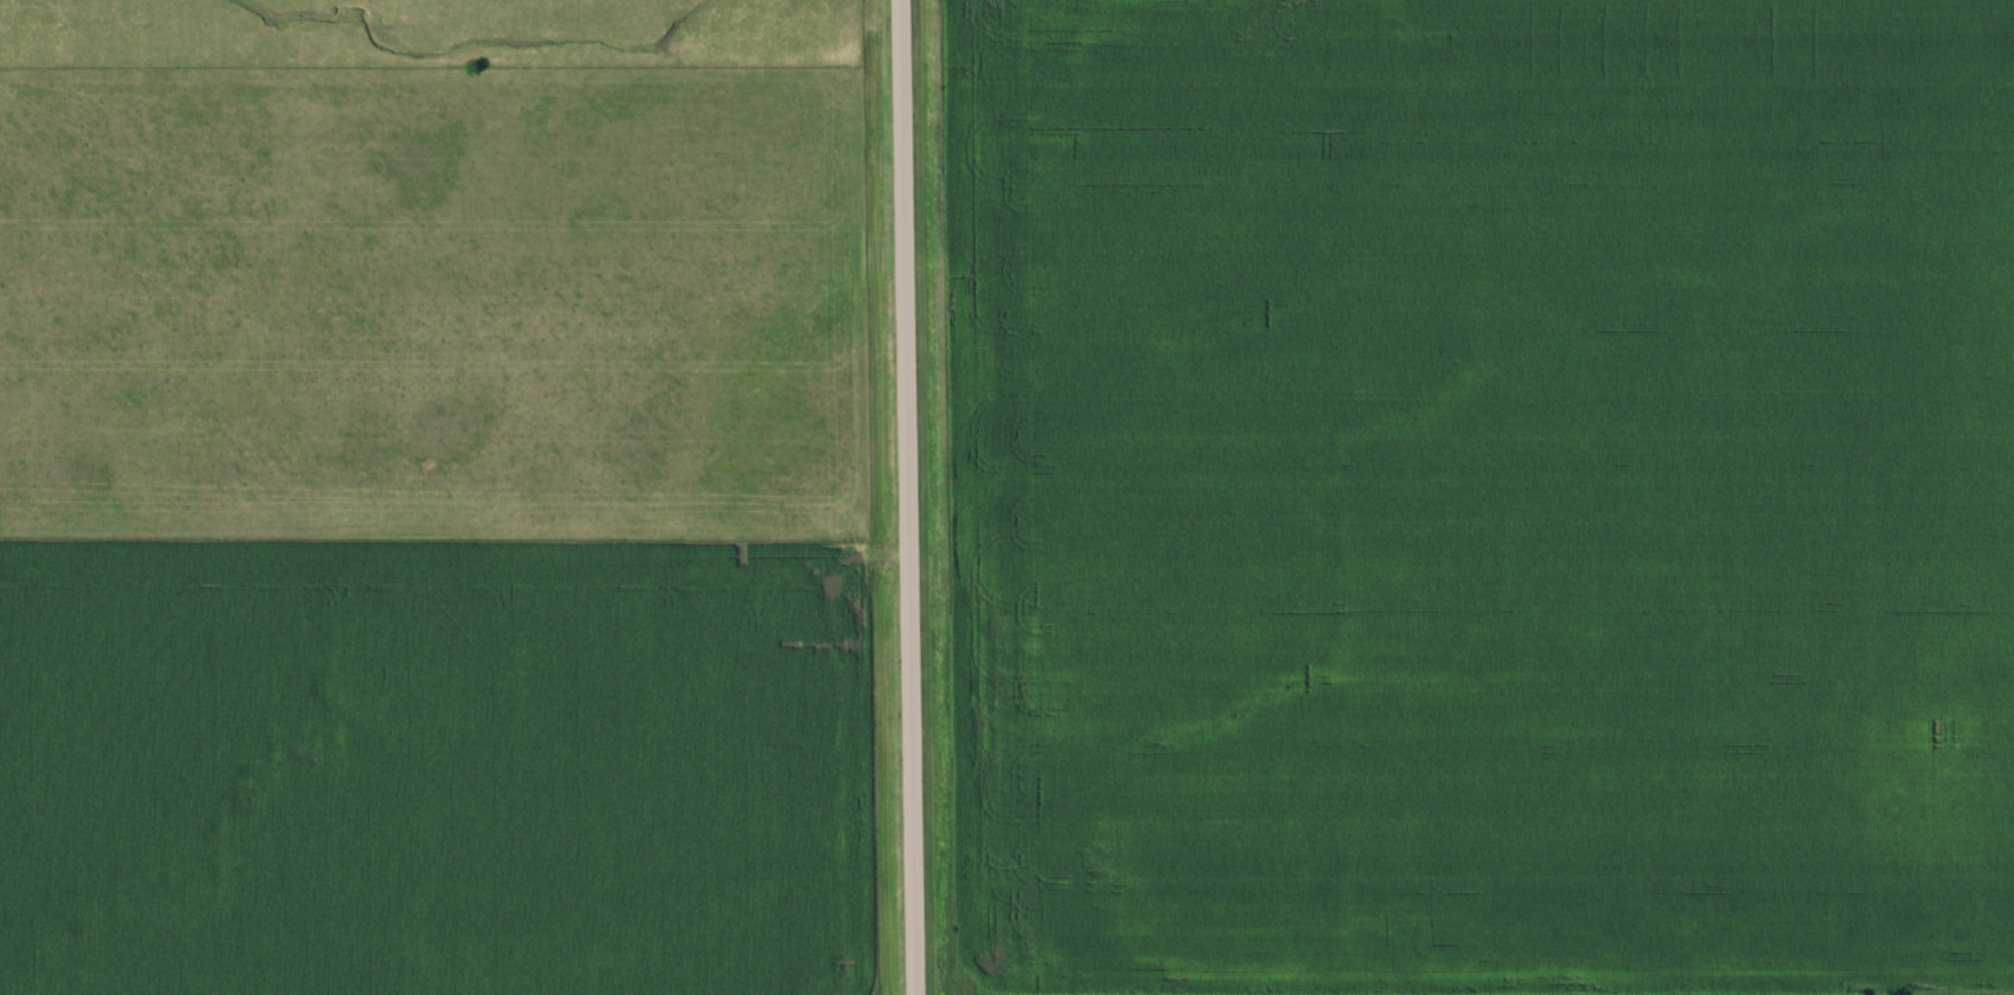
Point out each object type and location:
road: (906, 497)

